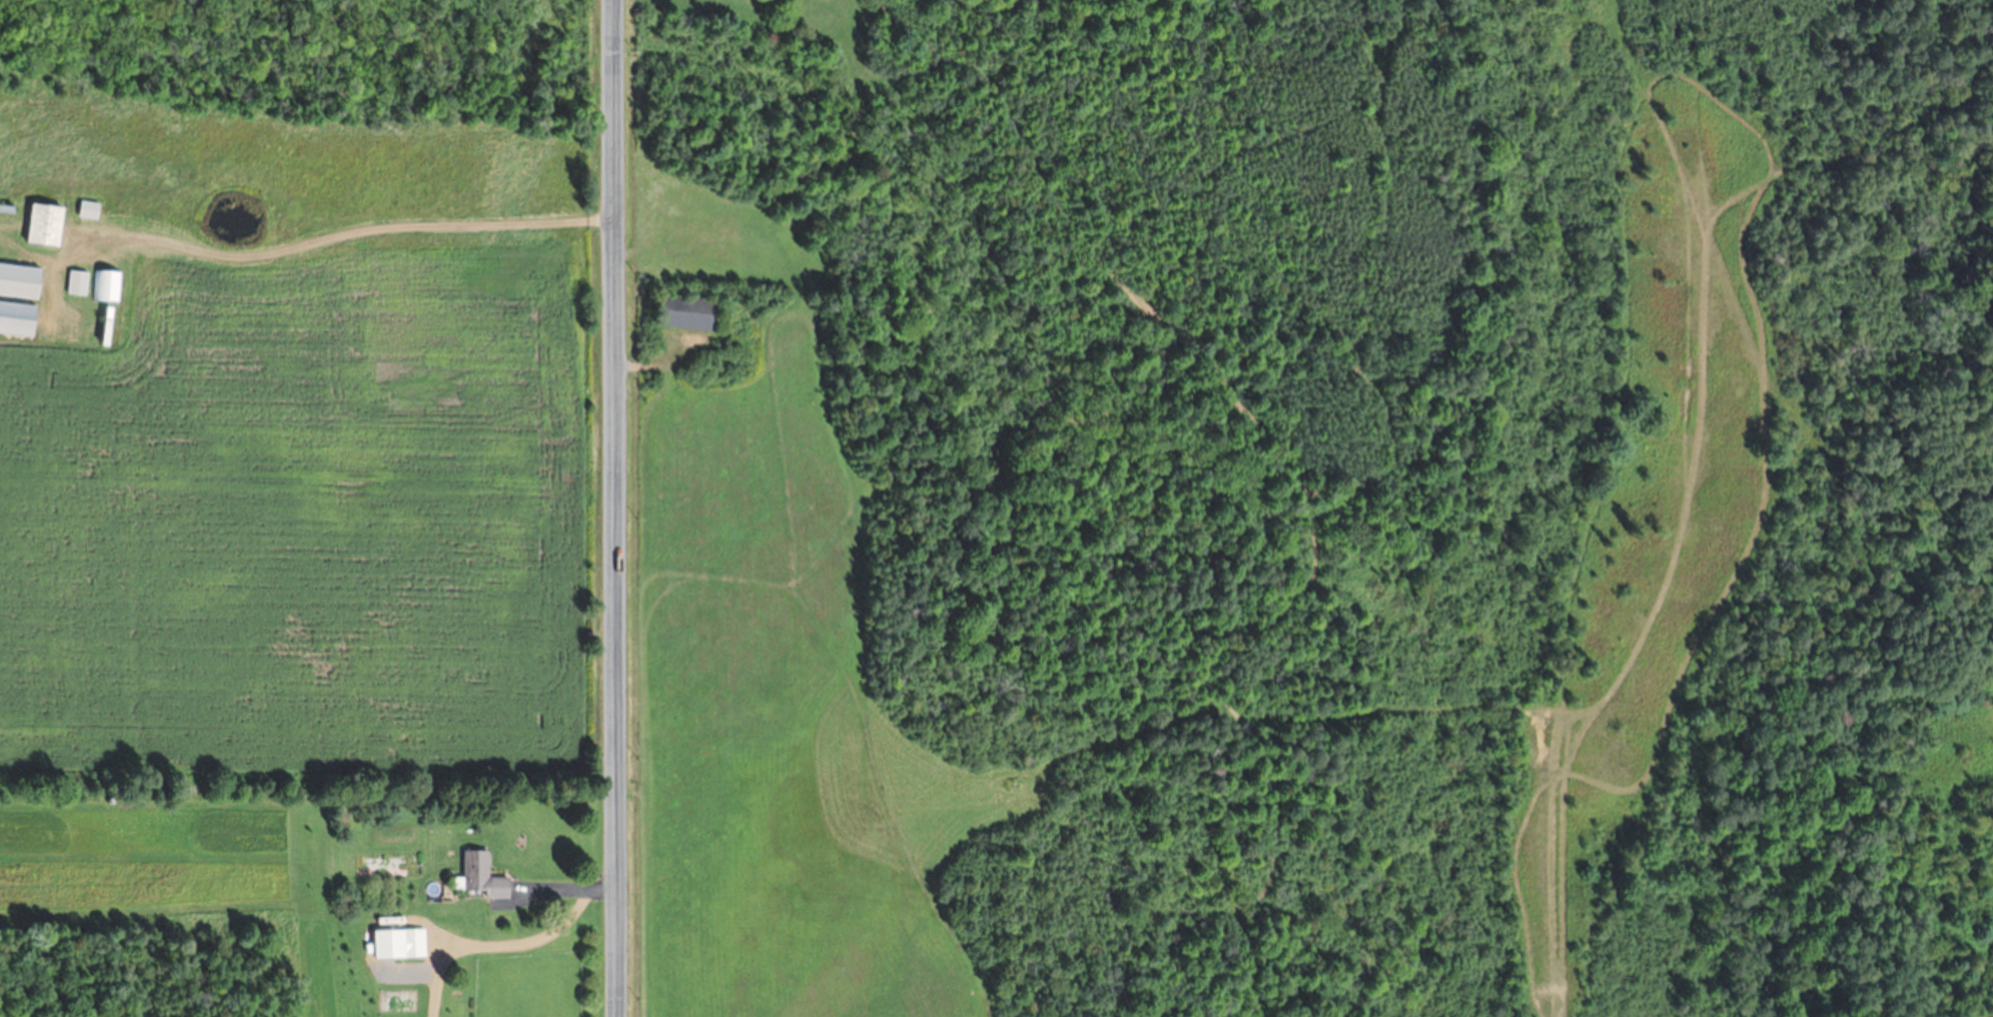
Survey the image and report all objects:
building: (90, 210)
building: (47, 225)
building: (21, 281)
building: (78, 282)
building: (107, 286)
building: (689, 312)
building: (18, 318)
road: (614, 508)
building: (482, 876)
building: (409, 943)

